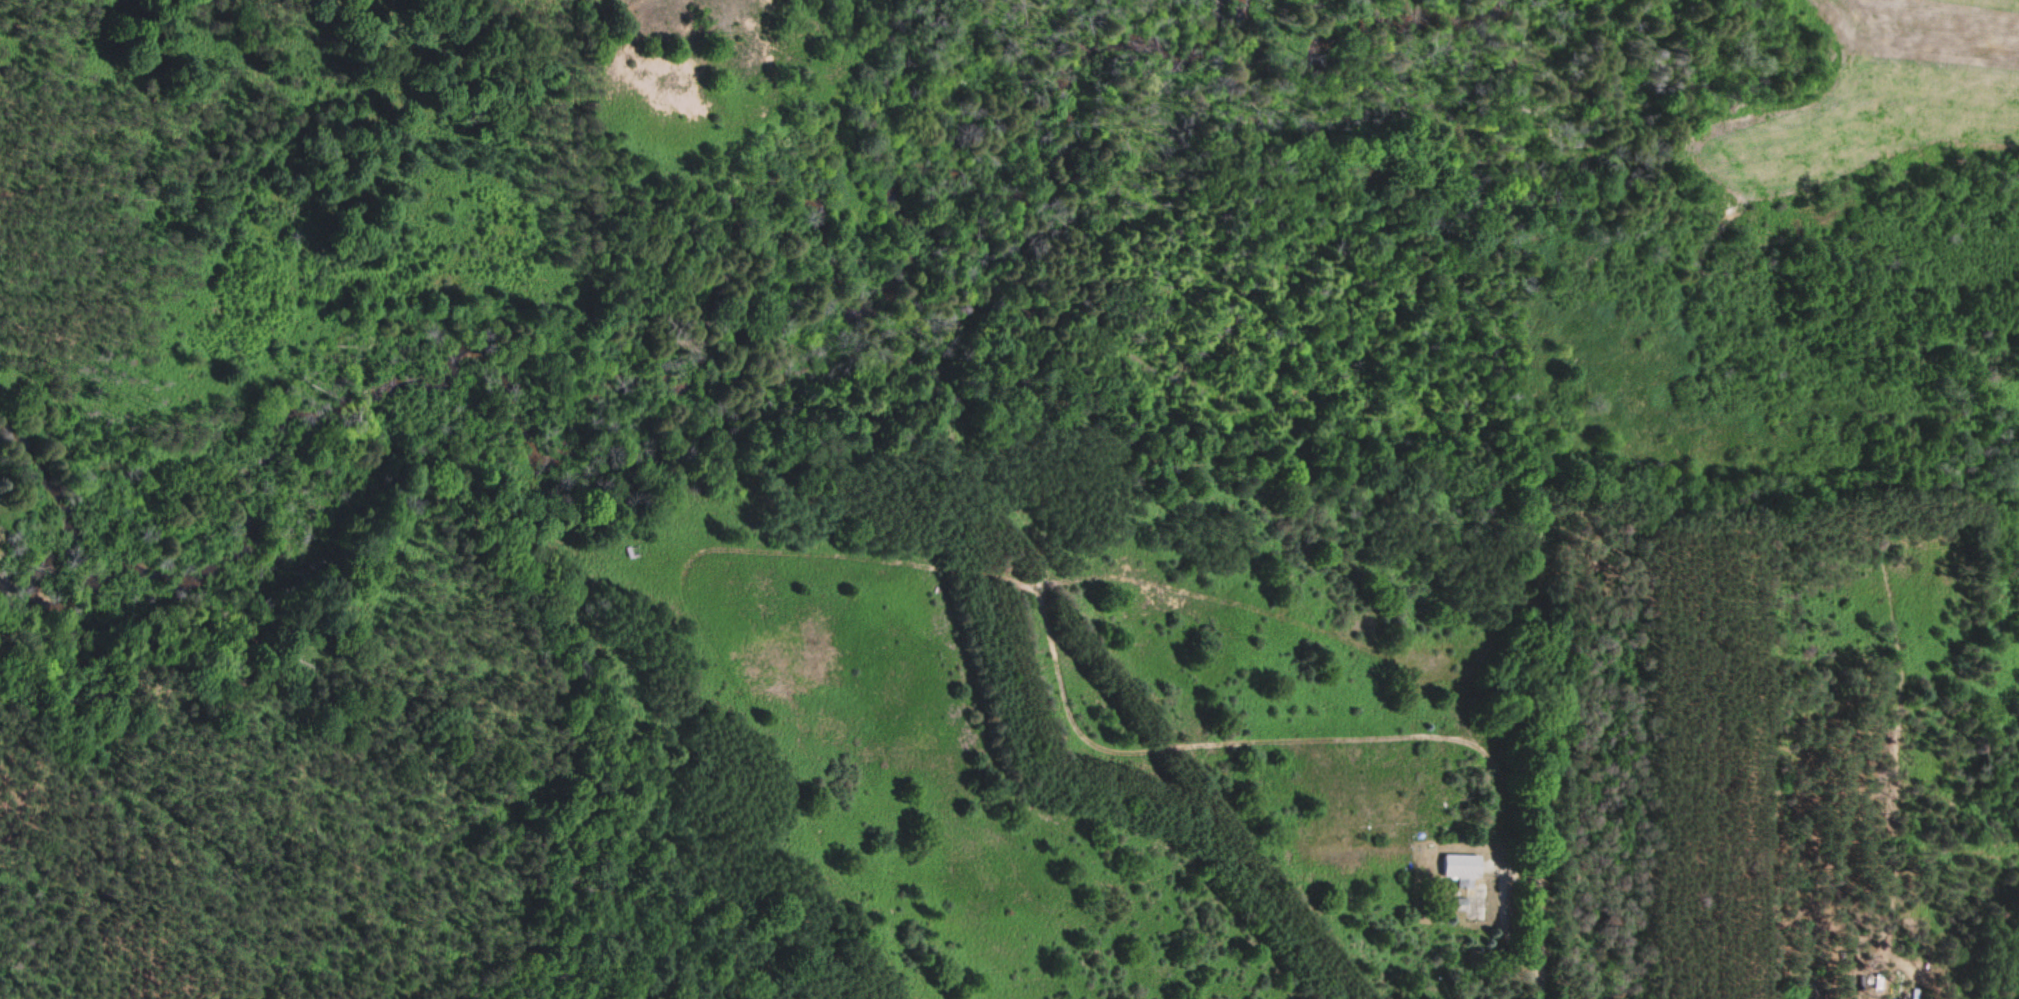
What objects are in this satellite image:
building: (1461, 866)
road: (1531, 996)

